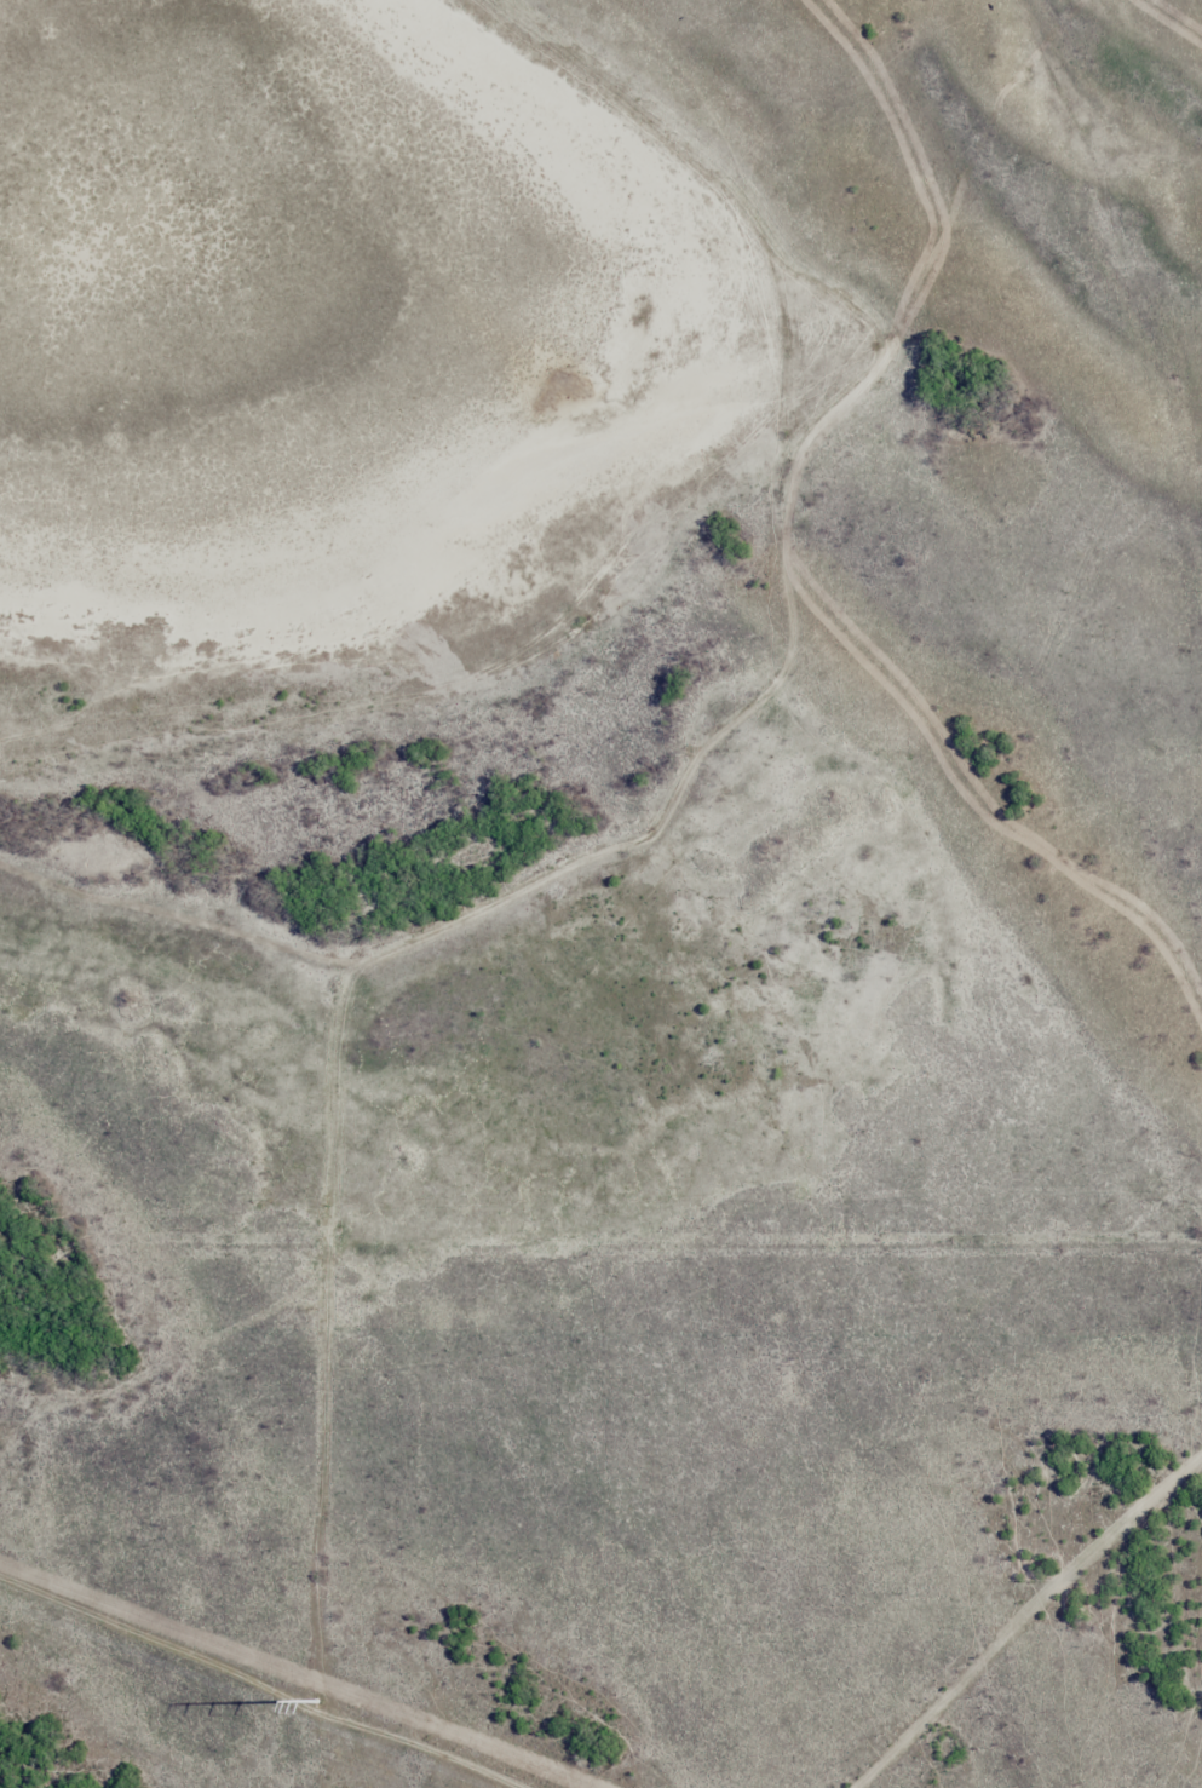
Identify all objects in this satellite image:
power tower: (324, 1704)

